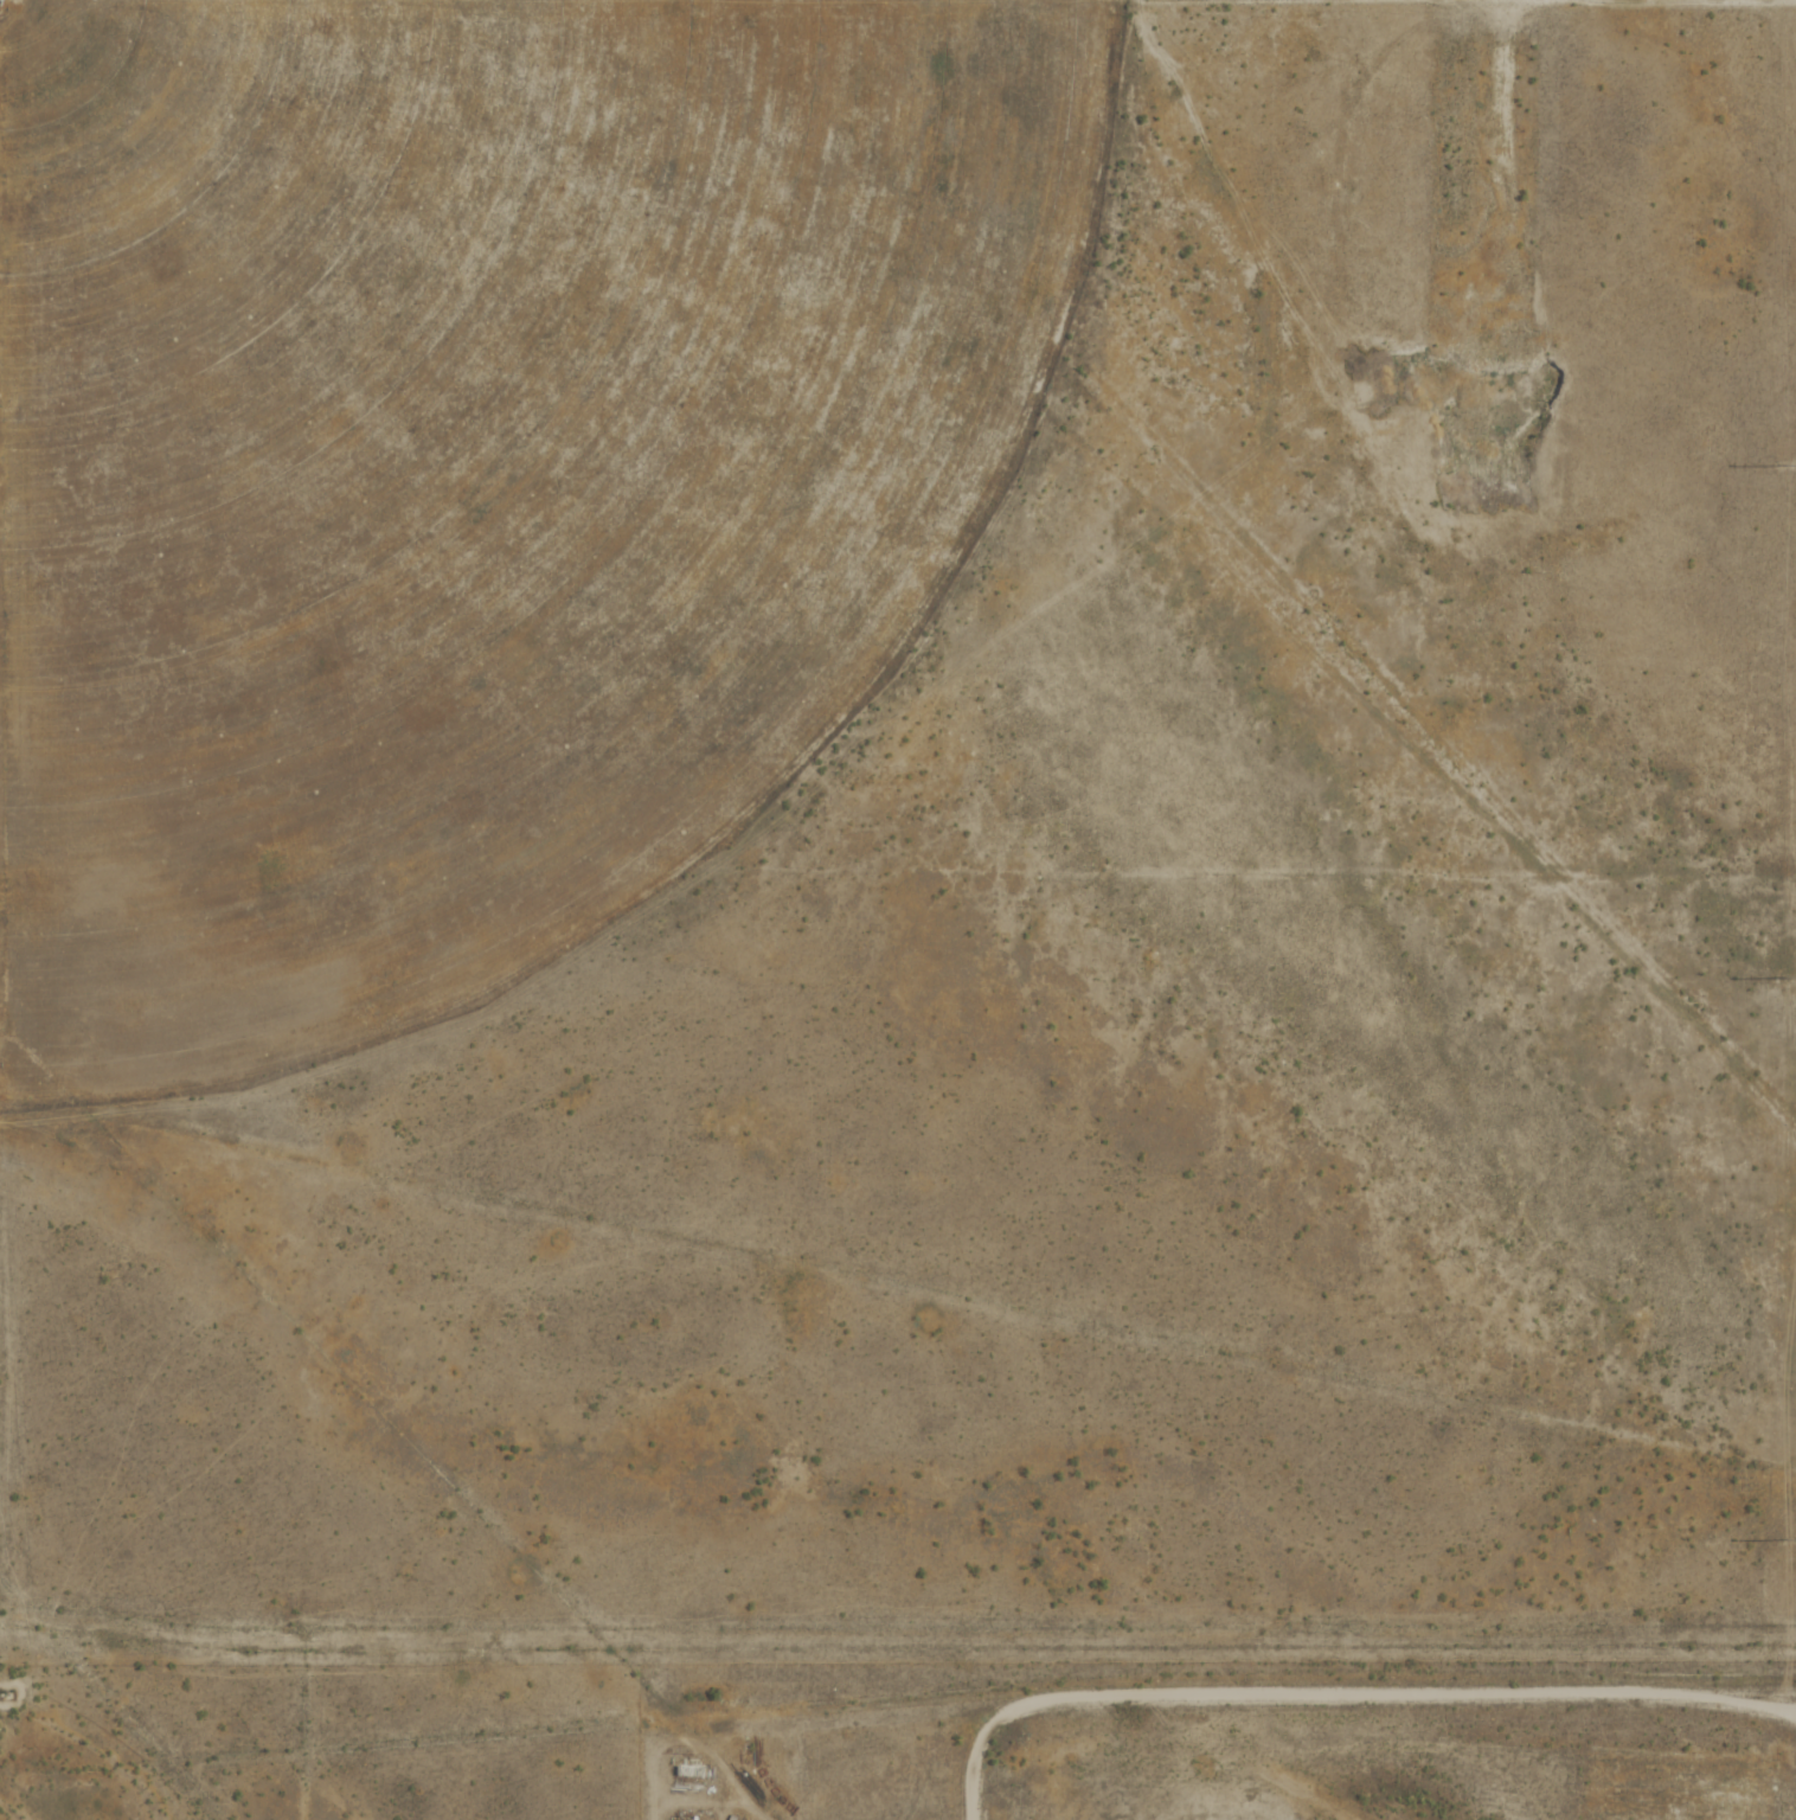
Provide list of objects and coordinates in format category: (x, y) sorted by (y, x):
power tower: (1783, 464)
power tower: (1785, 979)
power tower: (1784, 1539)

